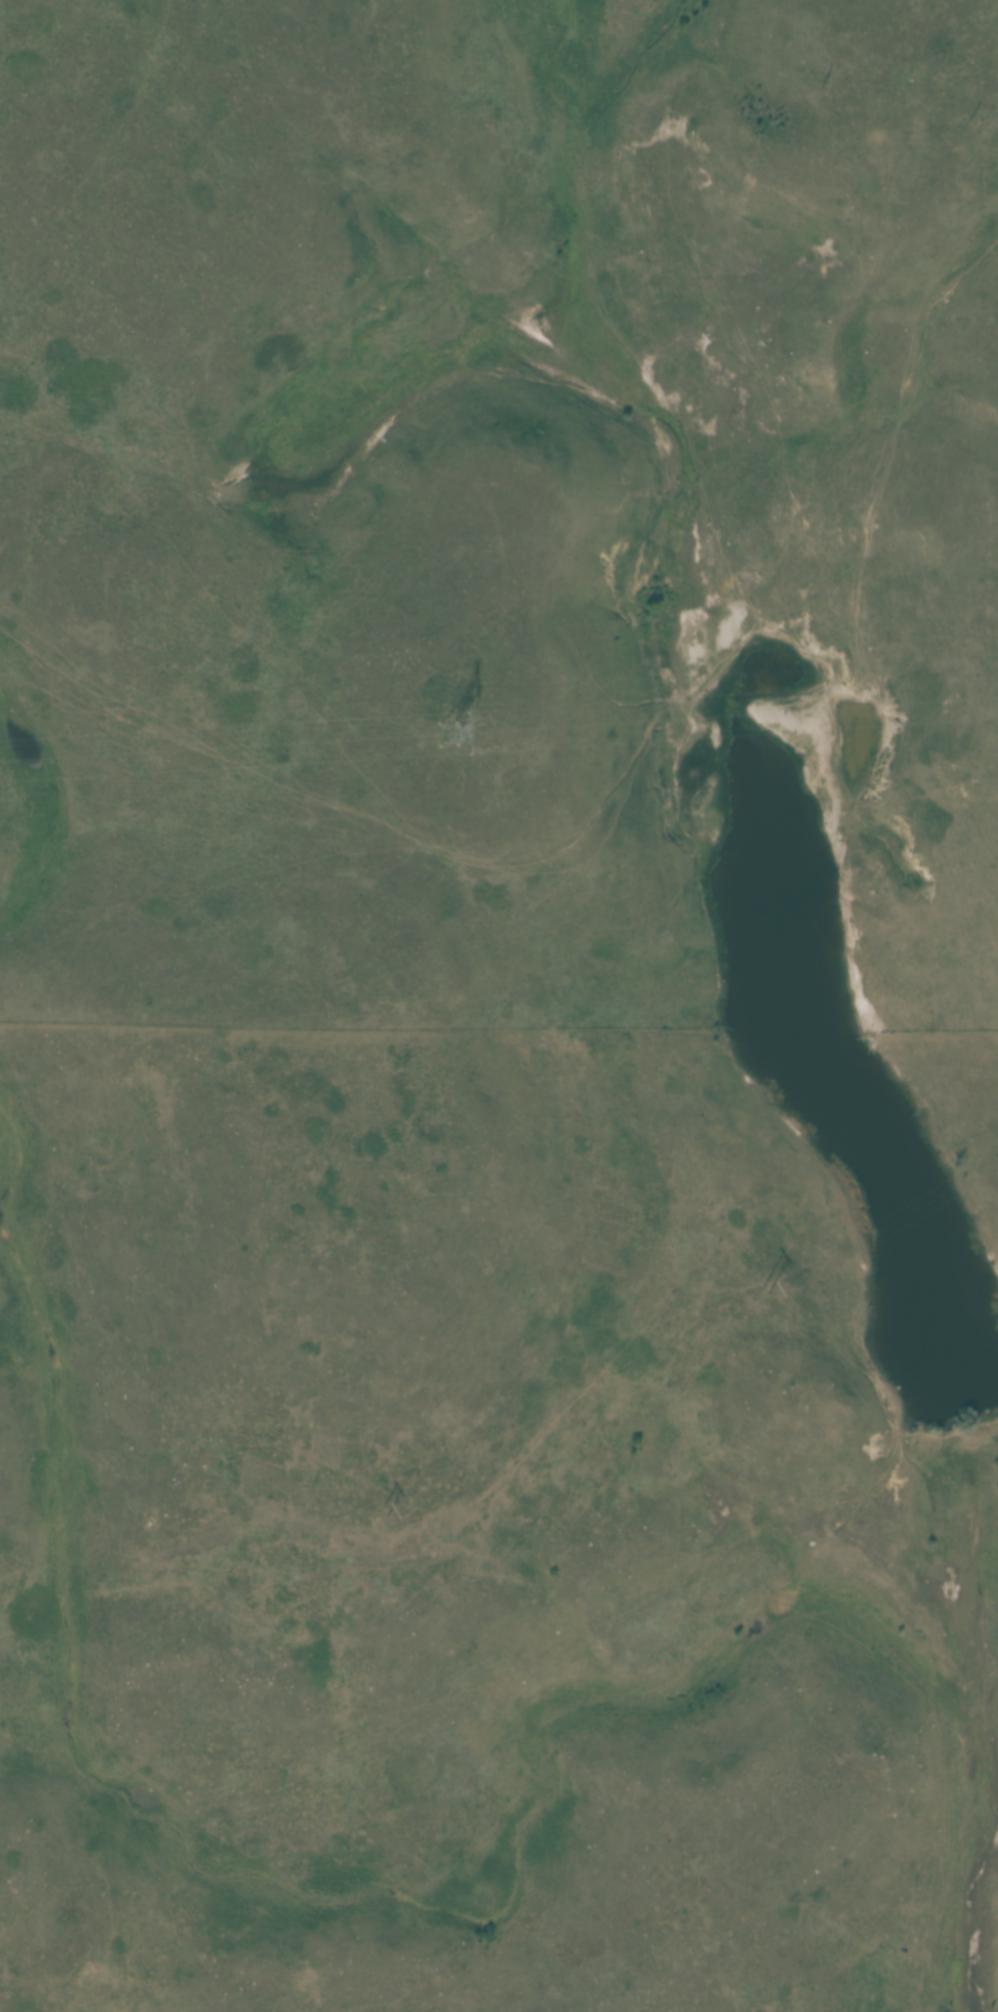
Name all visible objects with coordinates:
power tower: (446, 732)

